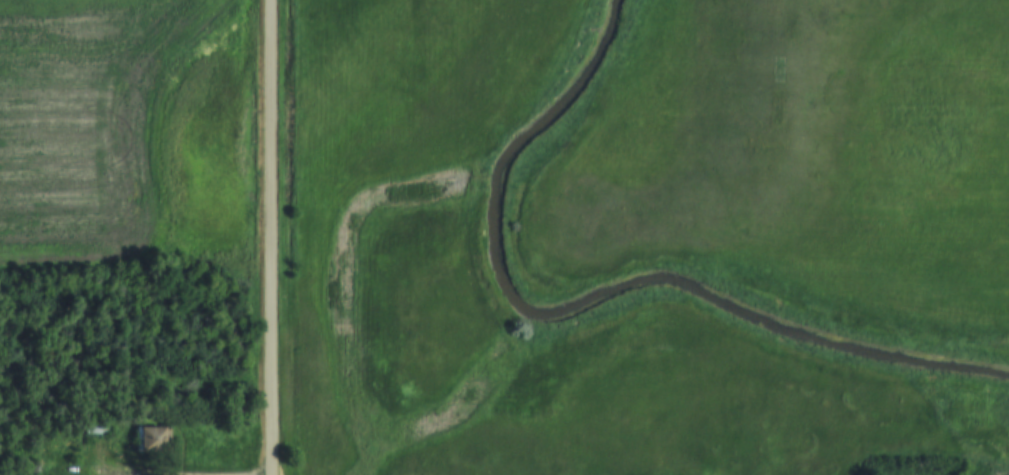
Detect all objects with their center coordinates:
road: (273, 237)
building: (98, 430)
building: (153, 439)

